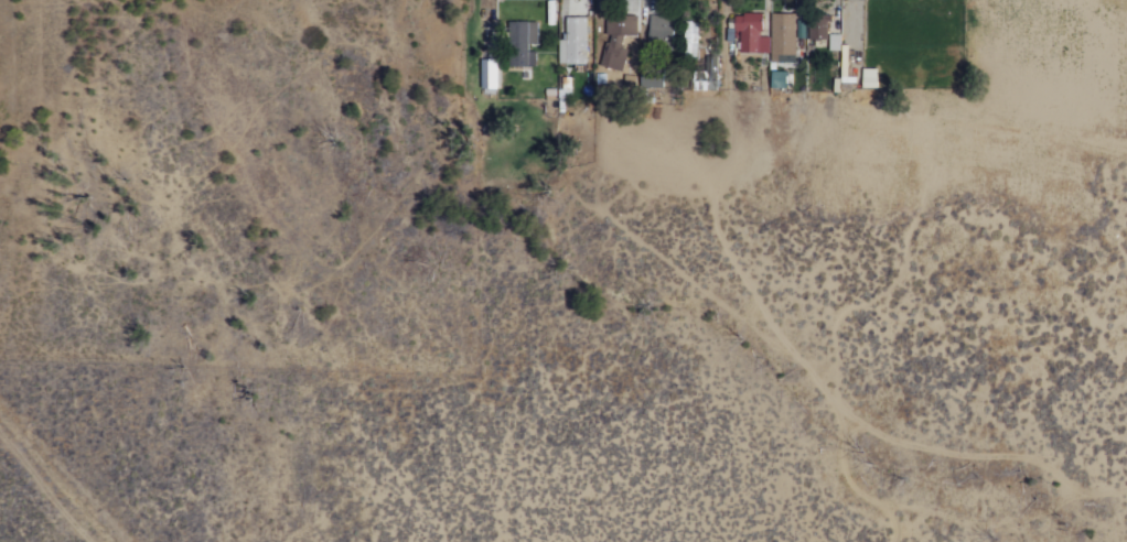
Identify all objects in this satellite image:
building: (573, 9)
building: (549, 12)
building: (817, 22)
building: (799, 29)
building: (659, 30)
building: (749, 31)
building: (525, 32)
building: (729, 33)
building: (780, 35)
building: (616, 37)
building: (688, 40)
building: (572, 42)
building: (839, 55)
building: (526, 57)
building: (487, 75)
building: (707, 75)
building: (652, 76)
building: (777, 79)
building: (563, 86)
road: (762, 308)
road: (836, 322)
road: (47, 489)

